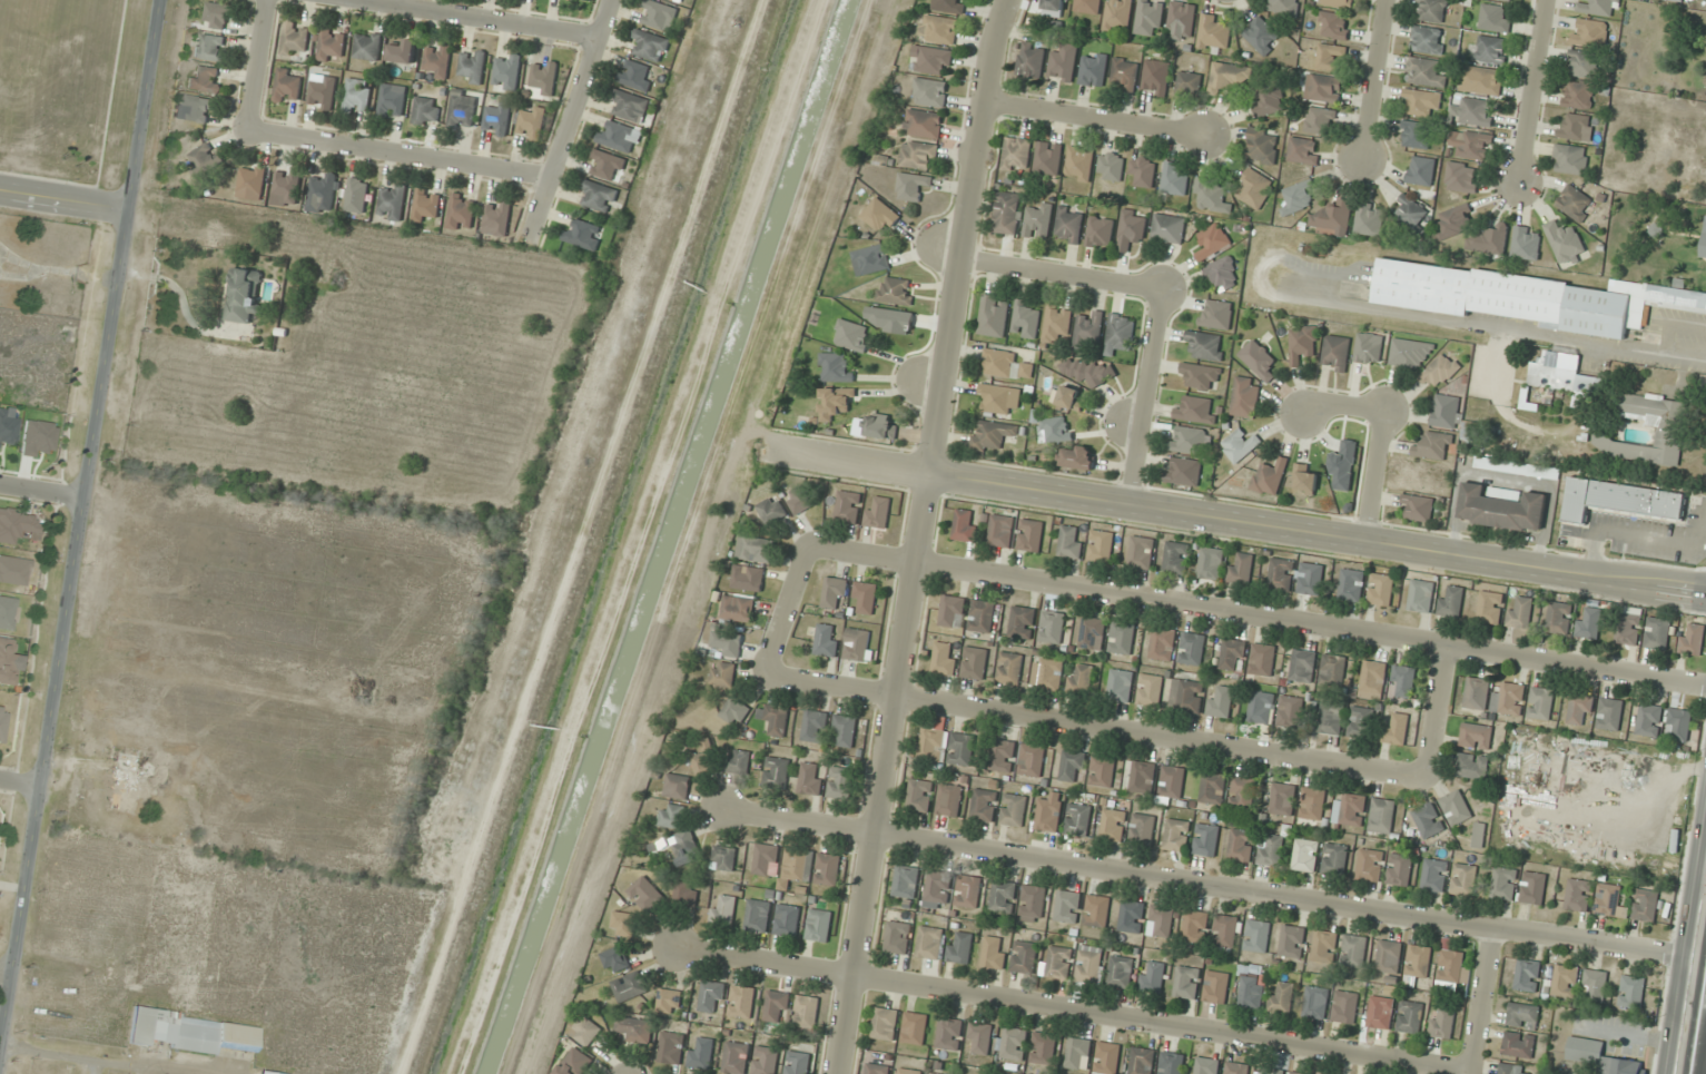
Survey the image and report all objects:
building: (677, 0)
building: (1509, 0)
building: (1675, 1)
building: (1339, 3)
building: (1055, 4)
building: (947, 6)
building: (1087, 6)
building: (1283, 7)
building: (1599, 8)
building: (1431, 10)
building: (658, 14)
building: (218, 16)
building: (1117, 16)
building: (1148, 17)
road: (474, 19)
building: (1493, 19)
building: (1181, 21)
building: (1333, 24)
building: (938, 29)
building: (1213, 32)
building: (1590, 32)
building: (1261, 36)
building: (1427, 39)
building: (295, 40)
building: (332, 45)
building: (367, 46)
building: (649, 46)
building: (211, 48)
building: (1491, 49)
building: (404, 52)
building: (1330, 57)
building: (1030, 59)
building: (931, 60)
building: (436, 61)
building: (1063, 62)
building: (1584, 63)
road: (259, 66)
building: (472, 66)
building: (1093, 69)
building: (506, 71)
building: (1424, 72)
building: (1124, 75)
building: (635, 76)
building: (1156, 77)
building: (1230, 77)
building: (205, 79)
building: (544, 79)
road: (1371, 79)
building: (1485, 81)
building: (1187, 85)
building: (288, 87)
building: (1323, 88)
road: (579, 89)
road: (1531, 89)
building: (929, 92)
building: (323, 93)
building: (1579, 95)
building: (357, 96)
building: (1268, 99)
building: (393, 101)
building: (629, 106)
building: (195, 109)
building: (463, 109)
building: (426, 110)
building: (1472, 112)
road: (1097, 116)
building: (496, 117)
building: (1320, 120)
building: (532, 124)
building: (924, 124)
building: (1576, 127)
building: (1416, 135)
building: (619, 136)
building: (1261, 145)
building: (1471, 145)
building: (1303, 151)
building: (1016, 154)
building: (919, 155)
road: (397, 156)
building: (1047, 158)
building: (205, 159)
building: (1570, 159)
building: (1079, 164)
building: (607, 165)
building: (1111, 166)
building: (1421, 170)
building: (1142, 171)
building: (1461, 177)
building: (1173, 179)
building: (253, 183)
building: (913, 186)
building: (287, 187)
building: (1254, 189)
building: (357, 195)
building: (595, 196)
building: (1211, 196)
building: (1298, 197)
road: (63, 199)
building: (392, 201)
building: (1575, 203)
building: (426, 205)
road: (538, 209)
building: (462, 211)
building: (1007, 213)
building: (1410, 214)
building: (880, 216)
building: (1332, 216)
building: (497, 218)
building: (1370, 219)
building: (1037, 220)
building: (1456, 220)
building: (1068, 225)
building: (1167, 228)
building: (1131, 229)
building: (1099, 233)
building: (582, 234)
building: (1564, 240)
building: (1704, 240)
building: (1212, 242)
building: (1526, 243)
building: (870, 259)
road: (1063, 274)
building: (1223, 274)
building: (895, 290)
building: (243, 295)
building: (1530, 297)
building: (1216, 314)
building: (993, 316)
building: (1057, 324)
building: (1088, 329)
building: (1120, 334)
building: (851, 335)
building: (1302, 343)
building: (1206, 345)
building: (1369, 347)
building: (1337, 353)
building: (1259, 359)
building: (1005, 365)
building: (836, 367)
building: (1440, 371)
building: (1087, 372)
building: (1201, 376)
building: (1559, 376)
road: (1146, 397)
building: (1245, 397)
building: (999, 398)
building: (1069, 398)
building: (836, 402)
road: (1342, 405)
building: (1195, 411)
building: (1447, 412)
building: (880, 426)
building: (1055, 430)
building: (1672, 430)
building: (992, 435)
building: (1187, 440)
building: (1240, 446)
building: (1434, 446)
building: (1078, 457)
building: (1517, 467)
building: (1183, 471)
road: (1374, 475)
building: (1270, 476)
building: (1305, 480)
road: (41, 491)
building: (800, 500)
building: (1621, 501)
building: (848, 506)
building: (1419, 506)
building: (1501, 509)
building: (771, 510)
building: (878, 512)
road: (78, 520)
road: (1235, 521)
building: (18, 525)
building: (965, 526)
building: (1000, 530)
road: (920, 535)
building: (1030, 535)
building: (1069, 541)
building: (1101, 546)
building: (755, 549)
building: (1142, 552)
building: (1176, 558)
building: (1211, 562)
road: (406, 563)
building: (1241, 568)
building: (13, 571)
building: (1281, 574)
building: (748, 578)
building: (1311, 579)
building: (1351, 584)
building: (1381, 590)
building: (835, 592)
building: (1421, 595)
building: (866, 597)
building: (1451, 601)
building: (1490, 607)
building: (738, 608)
road: (785, 609)
building: (953, 611)
building: (1520, 611)
road: (1255, 614)
building: (982, 615)
building: (1559, 618)
building: (1023, 622)
building: (1589, 623)
building: (1629, 625)
building: (1053, 627)
building: (1093, 633)
building: (1658, 633)
building: (1122, 638)
road: (121, 639)
building: (826, 641)
building: (1693, 641)
building: (728, 643)
building: (858, 644)
building: (1163, 644)
building: (1192, 649)
building: (1233, 654)
building: (944, 659)
building: (8, 660)
building: (1262, 660)
building: (975, 663)
building: (1303, 666)
building: (1009, 668)
building: (1332, 670)
building: (722, 673)
building: (1051, 674)
building: (1081, 679)
building: (1372, 680)
building: (1403, 680)
building: (1121, 684)
building: (1150, 690)
building: (1476, 693)
building: (1186, 696)
road: (362, 697)
building: (1509, 699)
building: (1221, 701)
building: (1540, 703)
building: (1261, 706)
building: (1579, 709)
road: (1434, 710)
building: (734, 711)
building: (1291, 711)
building: (1609, 713)
building: (1331, 718)
building: (773, 719)
building: (1649, 720)
building: (1360, 722)
road: (1093, 723)
building: (2, 725)
building: (1679, 725)
building: (815, 726)
building: (1397, 728)
building: (847, 729)
building: (1476, 736)
building: (933, 745)
building: (962, 749)
building: (1003, 756)
building: (704, 760)
building: (1030, 760)
building: (738, 761)
building: (1072, 766)
building: (1472, 766)
building: (1102, 770)
building: (777, 772)
building: (1143, 777)
building: (810, 779)
building: (839, 782)
road: (19, 784)
building: (1171, 784)
building: (129, 785)
building: (677, 786)
building: (1213, 788)
building: (1243, 792)
building: (920, 795)
building: (949, 799)
building: (1282, 799)
building: (1312, 804)
building: (984, 805)
building: (1456, 808)
building: (1014, 810)
building: (1349, 810)
building: (1049, 814)
building: (1382, 814)
building: (672, 816)
building: (1077, 819)
building: (1428, 820)
building: (1113, 825)
building: (1142, 829)
building: (1176, 835)
building: (1479, 835)
building: (1206, 839)
building: (1241, 845)
building: (1641, 846)
building: (686, 848)
building: (1271, 850)
building: (1305, 855)
building: (723, 858)
building: (766, 858)
building: (1335, 859)
building: (1370, 865)
building: (795, 866)
building: (828, 869)
building: (1399, 869)
building: (1463, 879)
building: (907, 880)
building: (1503, 883)
road: (1216, 884)
building: (939, 886)
building: (1532, 887)
building: (968, 891)
building: (686, 893)
building: (645, 894)
building: (1578, 895)
building: (1002, 896)
building: (1607, 899)
building: (1033, 900)
building: (1645, 905)
building: (1067, 906)
building: (722, 910)
building: (1096, 910)
building: (757, 915)
building: (1132, 916)
building: (788, 920)
building: (1161, 922)
building: (624, 924)
building: (819, 925)
building: (1196, 926)
building: (107, 929)
building: (1225, 932)
building: (1258, 936)
building: (898, 937)
building: (377, 940)
building: (1292, 940)
building: (930, 943)
building: (1324, 946)
building: (960, 947)
building: (1354, 950)
building: (993, 954)
building: (1389, 956)
building: (1024, 957)
building: (615, 959)
building: (1059, 963)
building: (1418, 964)
building: (1088, 967)
building: (1452, 968)
building: (1121, 972)
road: (4, 975)
building: (1527, 975)
building: (1152, 977)
building: (1565, 981)
building: (1187, 982)
building: (630, 986)
building: (1251, 986)
building: (1595, 986)
building: (1216, 987)
building: (1631, 991)
building: (711, 997)
building: (1281, 997)
road: (1480, 999)
building: (669, 1001)
building: (741, 1002)
building: (1315, 1002)
building: (776, 1005)
road: (1072, 1006)
building: (1344, 1007)
building: (1382, 1011)
building: (806, 1012)
building: (1523, 1015)
building: (1410, 1016)
building: (1442, 1022)
building: (886, 1024)
building: (915, 1028)
road: (1698, 1028)
building: (633, 1029)
building: (585, 1031)
building: (190, 1033)
building: (948, 1034)
building: (979, 1036)
building: (1013, 1044)
building: (1518, 1044)
building: (671, 1048)
building: (1043, 1048)
building: (701, 1053)
building: (1077, 1053)
building: (736, 1057)
building: (1600, 1057)
building: (1106, 1058)
road: (86, 1061)
building: (766, 1061)
building: (1142, 1061)
building: (575, 1063)
building: (798, 1063)
building: (1171, 1063)
building: (1206, 1066)
building: (878, 1068)
building: (1236, 1068)
building: (1513, 1070)
building: (909, 1071)
building: (1271, 1071)
building: (264, 1073)
building: (934, 1073)
building: (1296, 1073)

